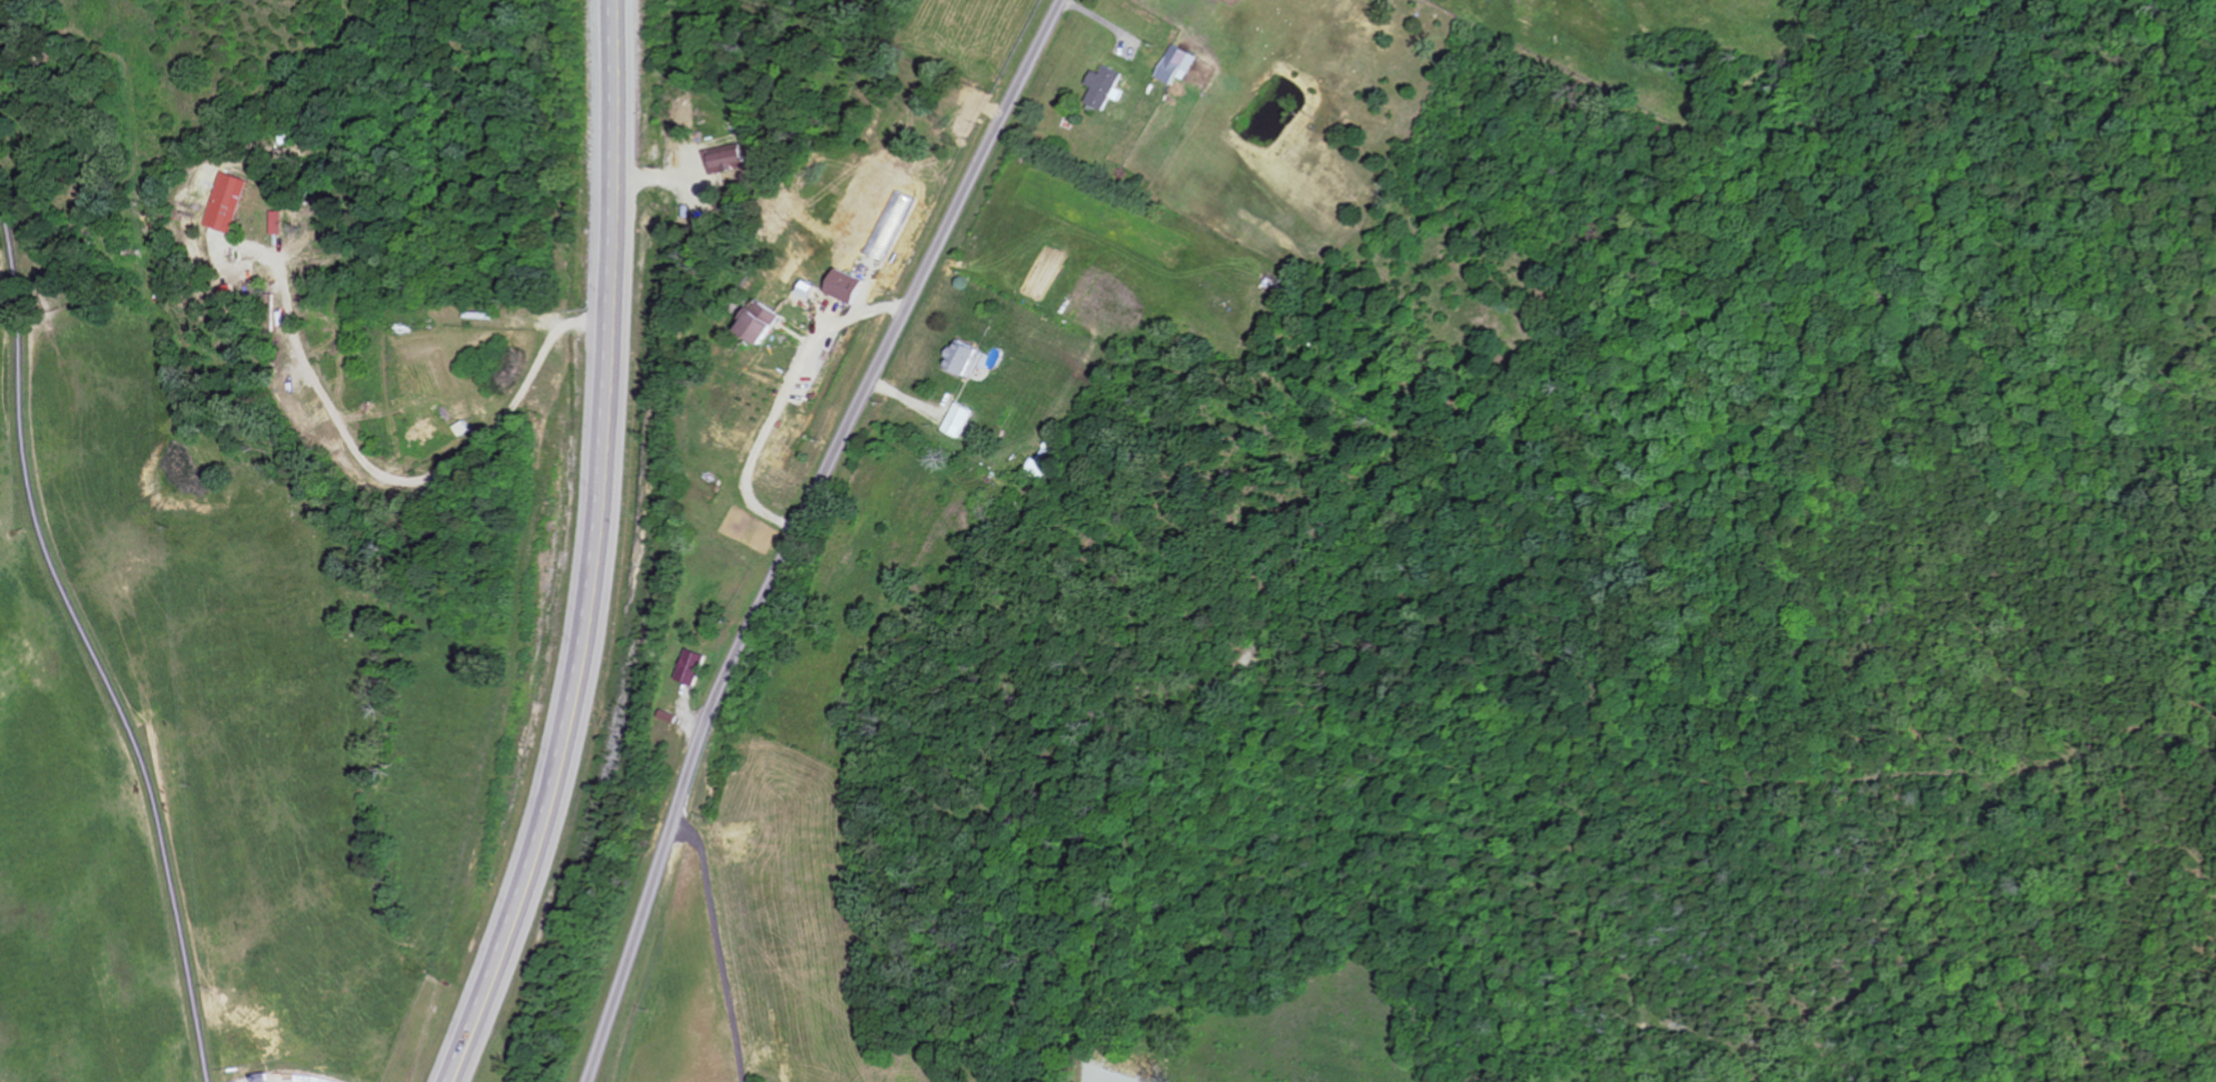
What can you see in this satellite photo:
building: (1179, 64)
building: (1106, 85)
building: (726, 157)
building: (228, 202)
building: (278, 222)
building: (847, 285)
building: (763, 321)
building: (967, 358)
building: (959, 419)
building: (1044, 463)
road: (796, 529)
road: (586, 549)
building: (693, 666)
road: (722, 943)

